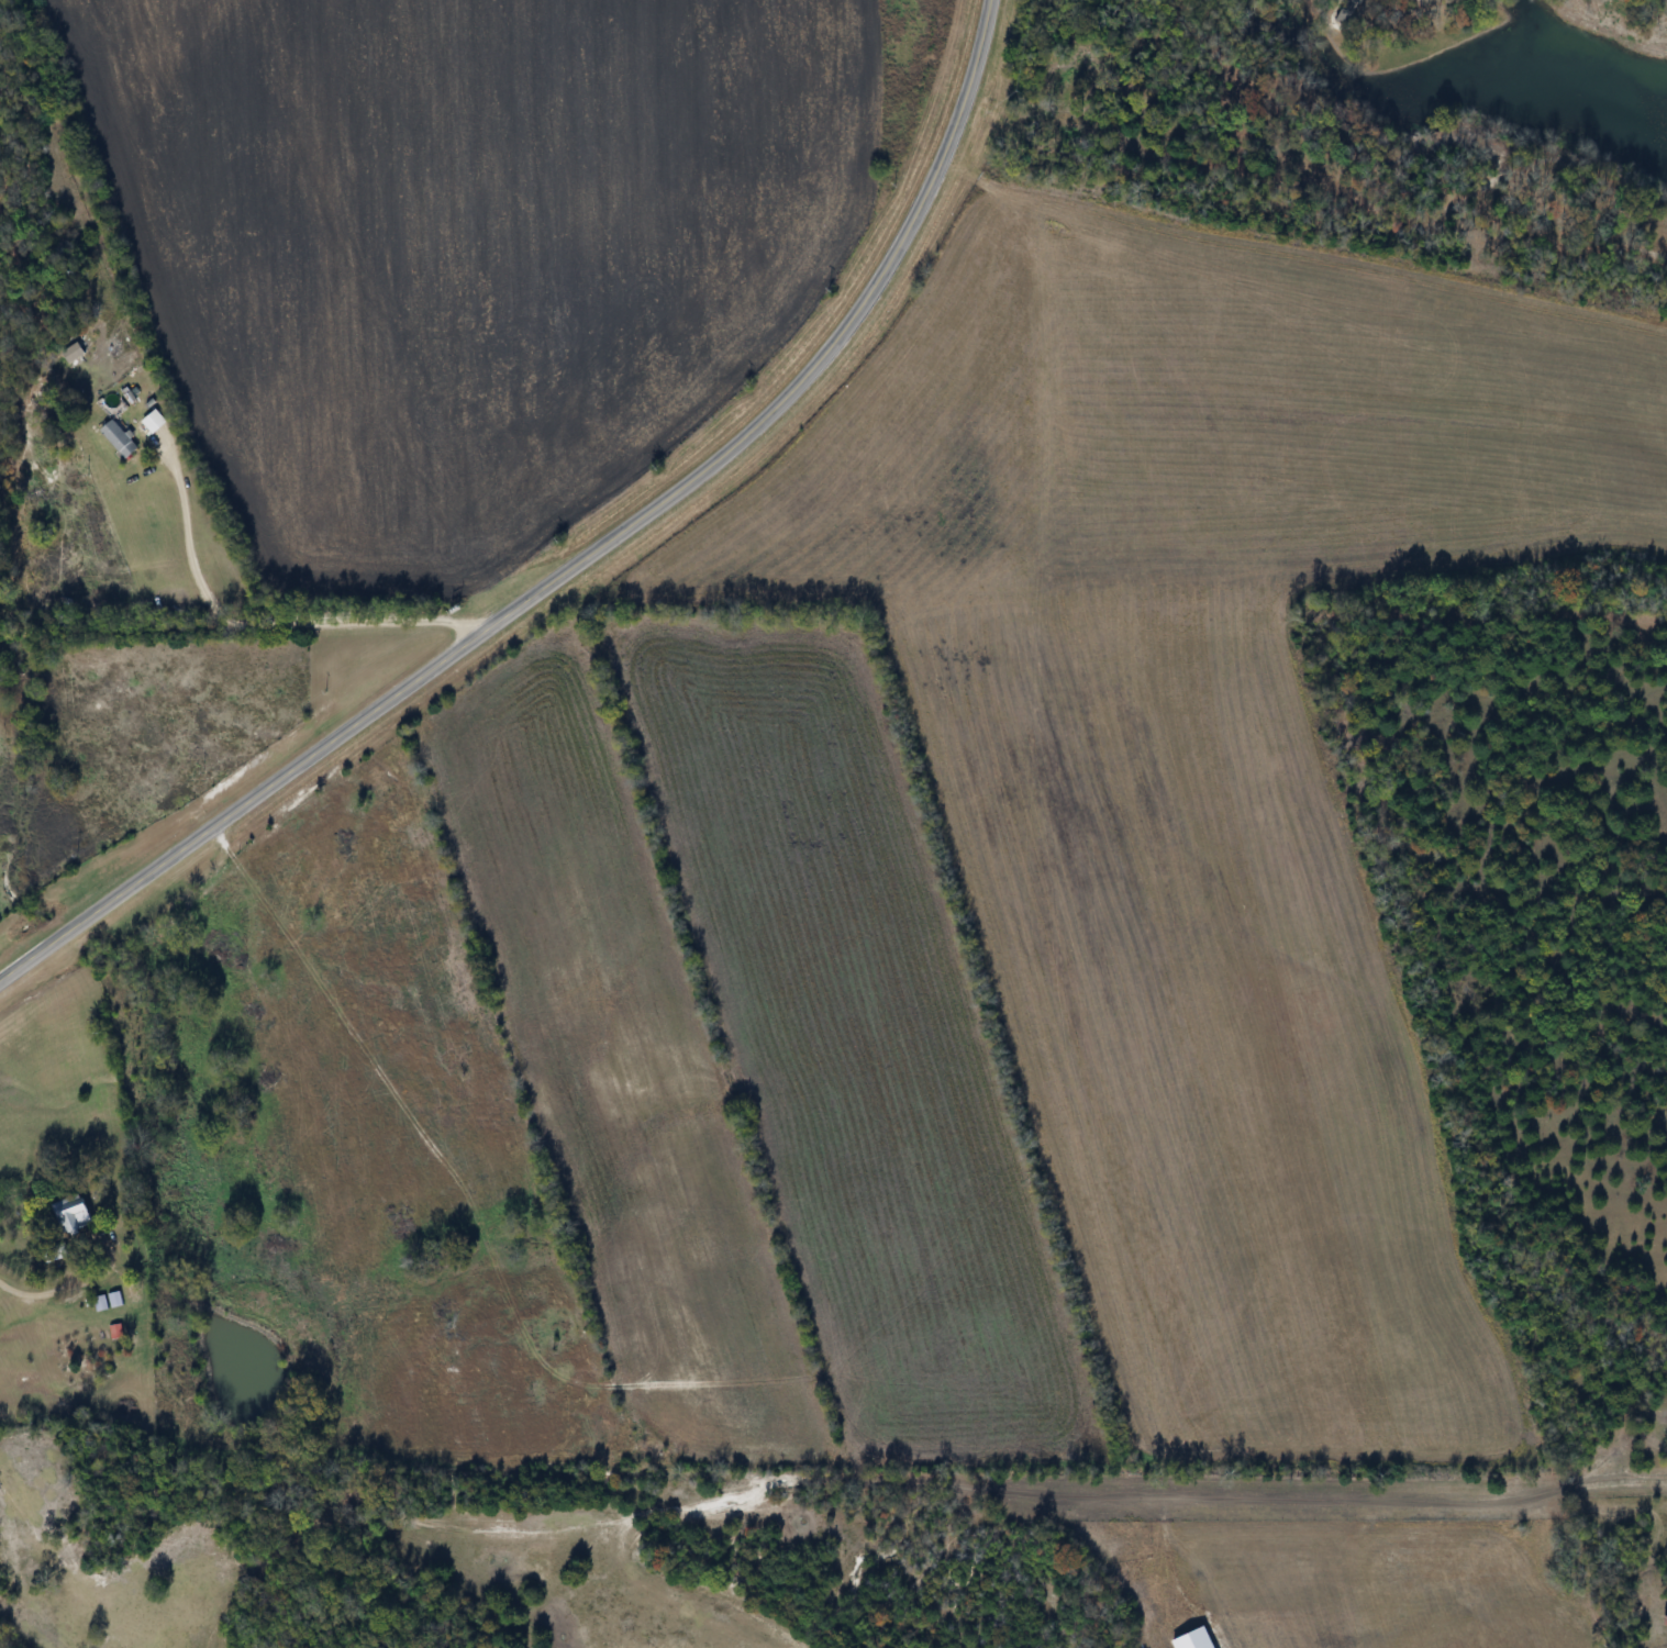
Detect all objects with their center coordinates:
building: (74, 354)
building: (155, 423)
building: (120, 441)
road: (581, 559)
building: (169, 598)
building: (52, 599)
road: (252, 623)
building: (74, 1214)
road: (53, 1291)
building: (115, 1300)
building: (100, 1304)
building: (116, 1333)
road: (1418, 1497)

